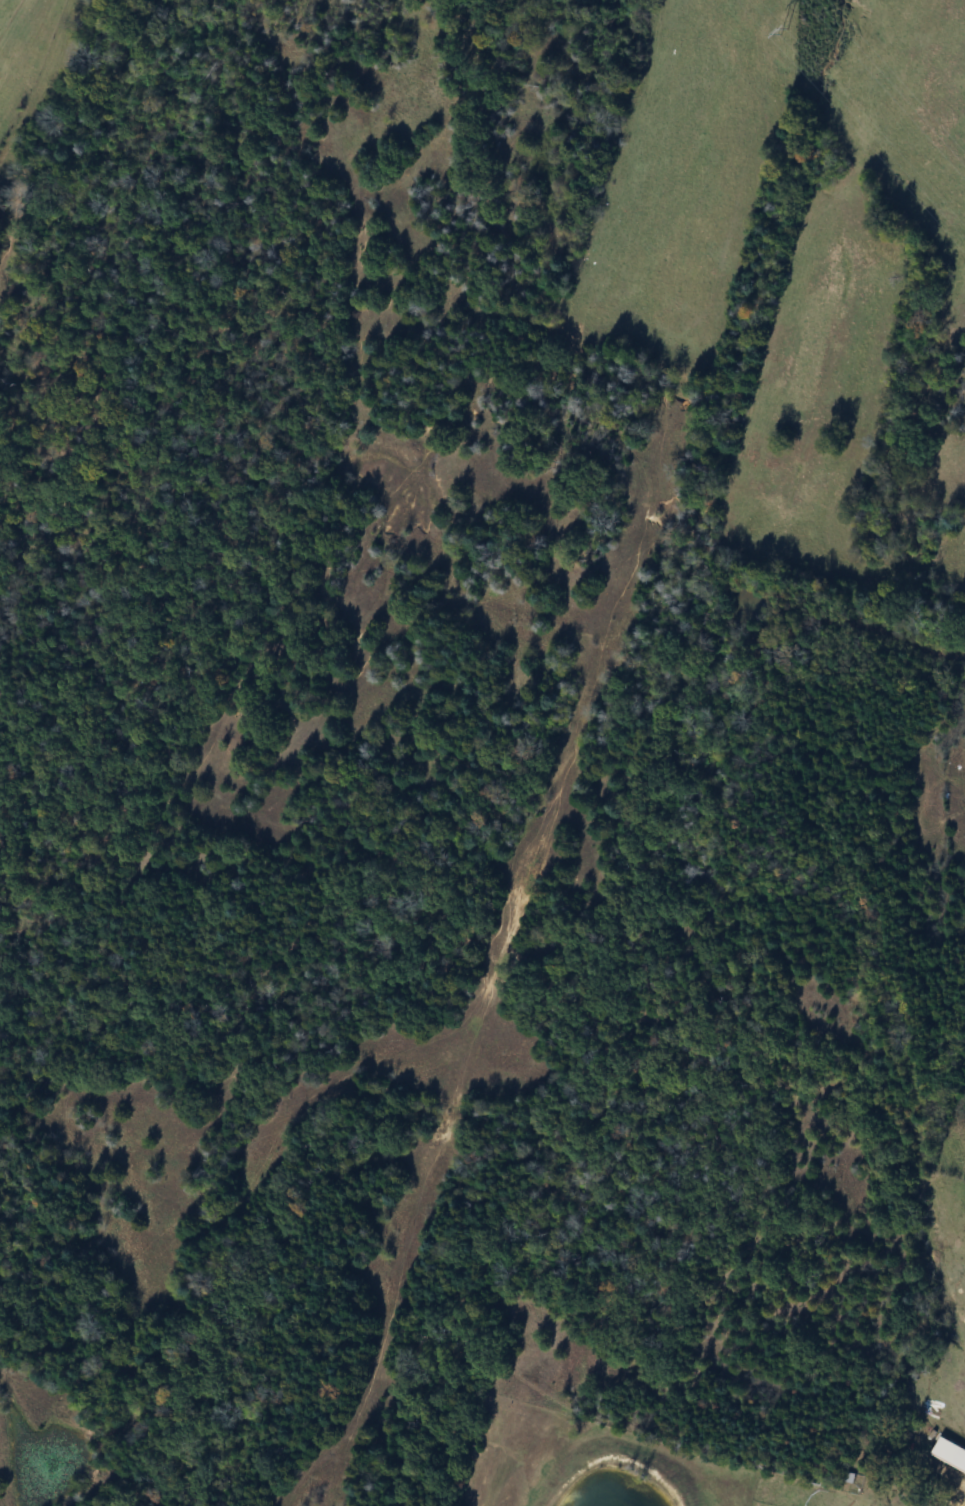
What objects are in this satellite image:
power tower: (779, 33)
building: (951, 1453)

